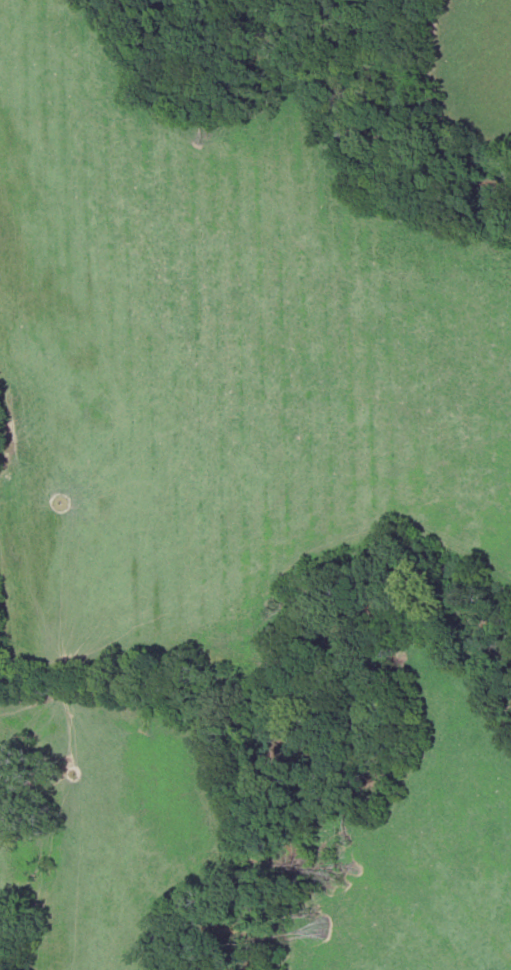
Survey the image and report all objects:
road: (156, 698)

